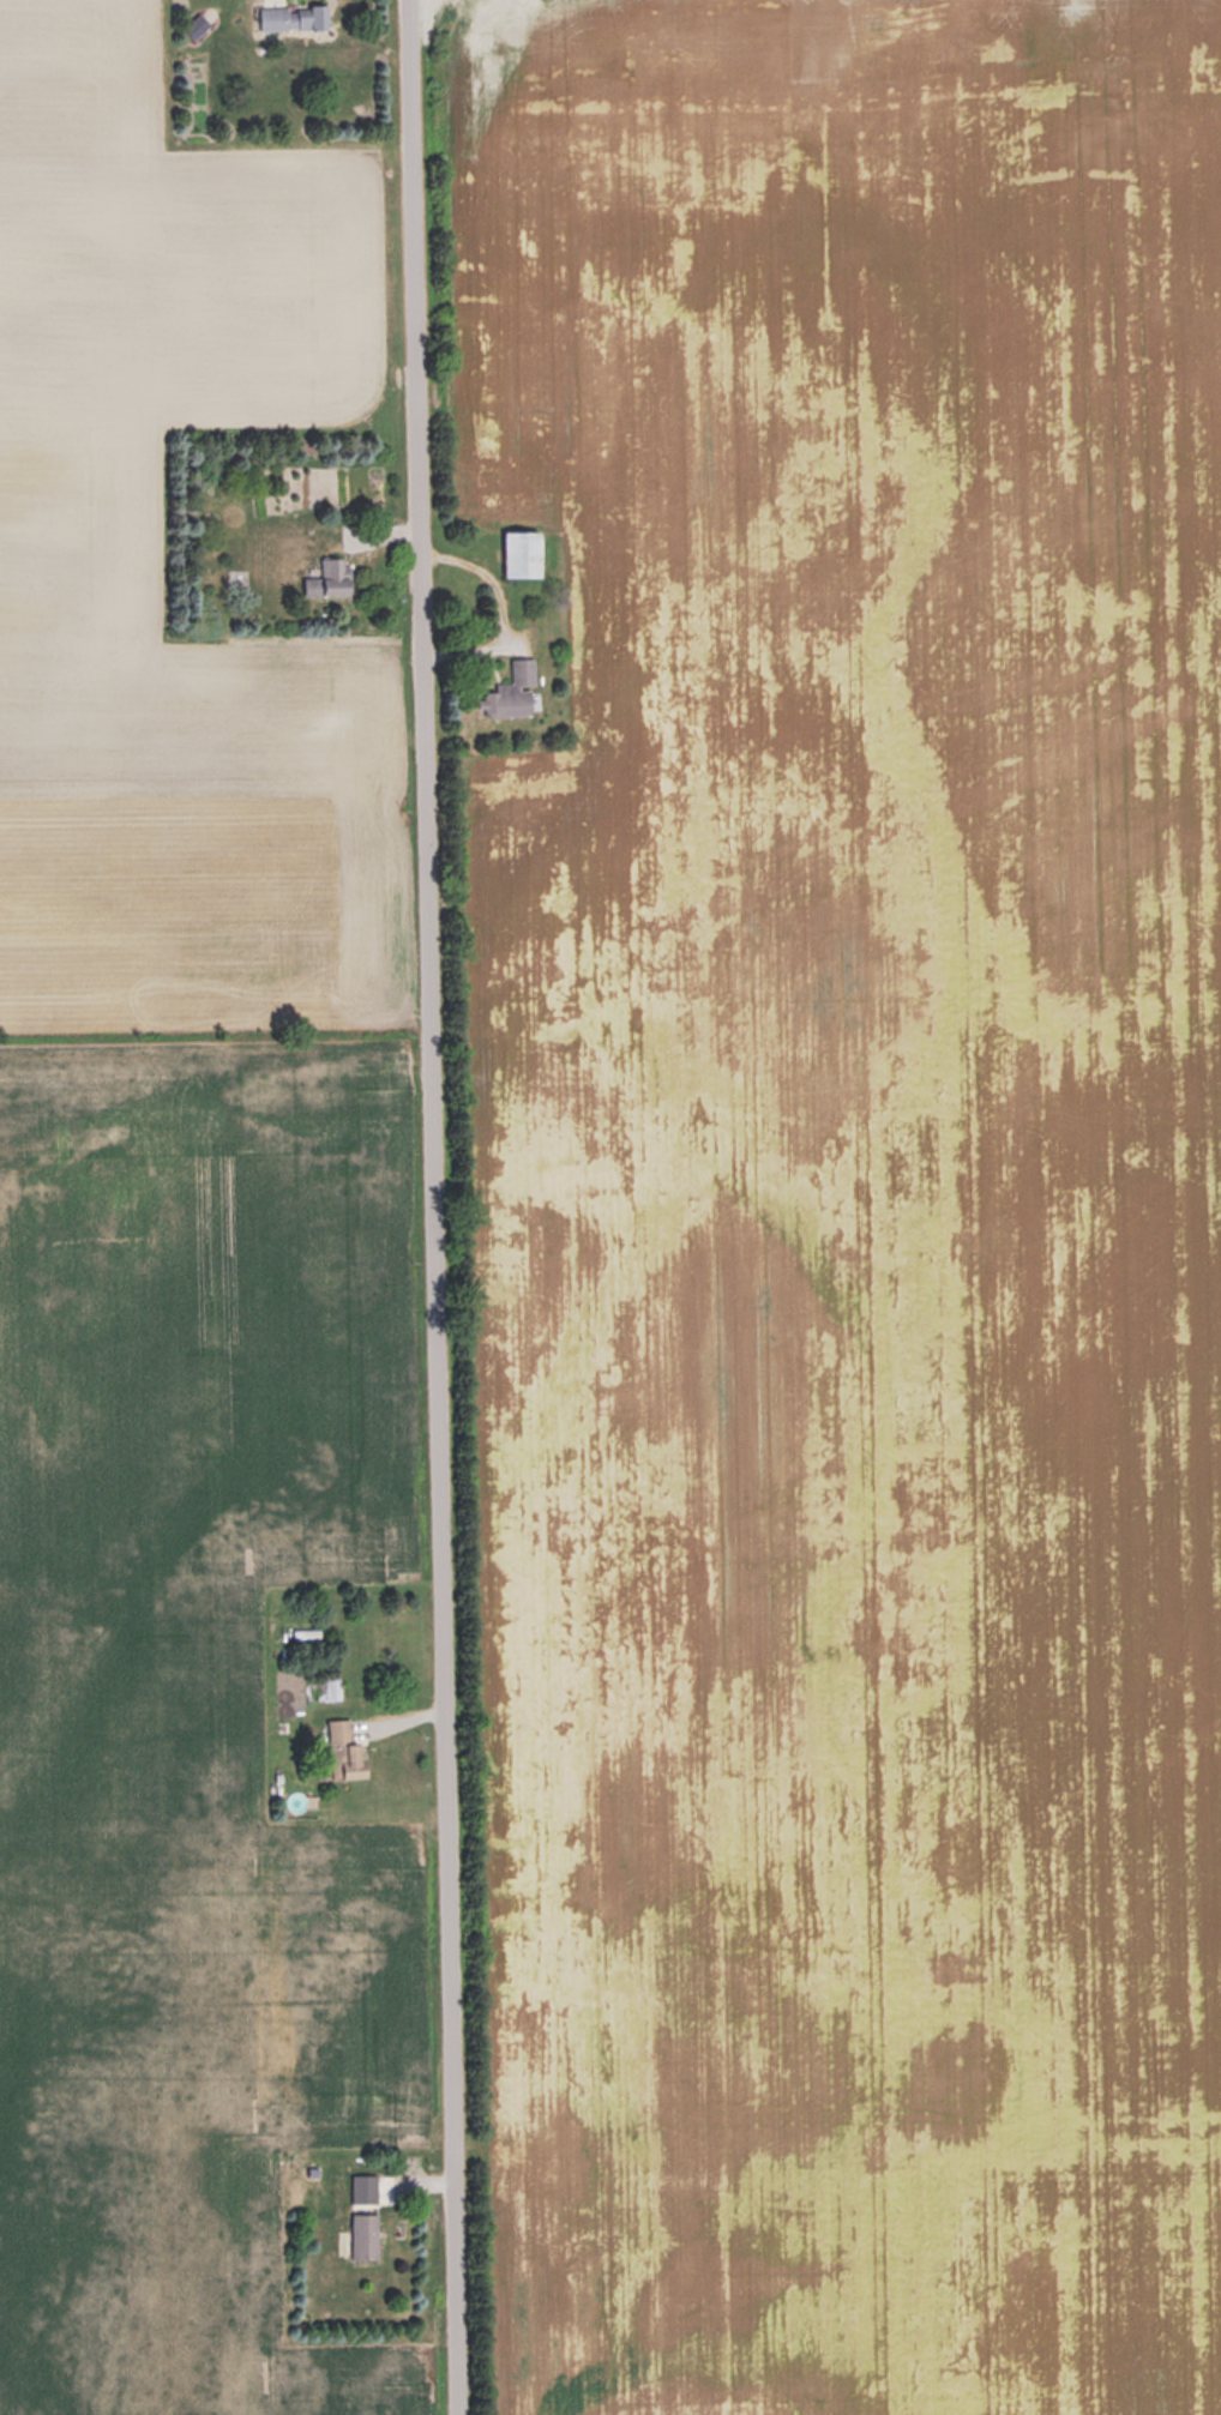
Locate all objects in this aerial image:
building: (296, 14)
building: (527, 554)
building: (333, 578)
building: (513, 692)
road: (440, 1207)
building: (349, 1749)
building: (367, 2235)

